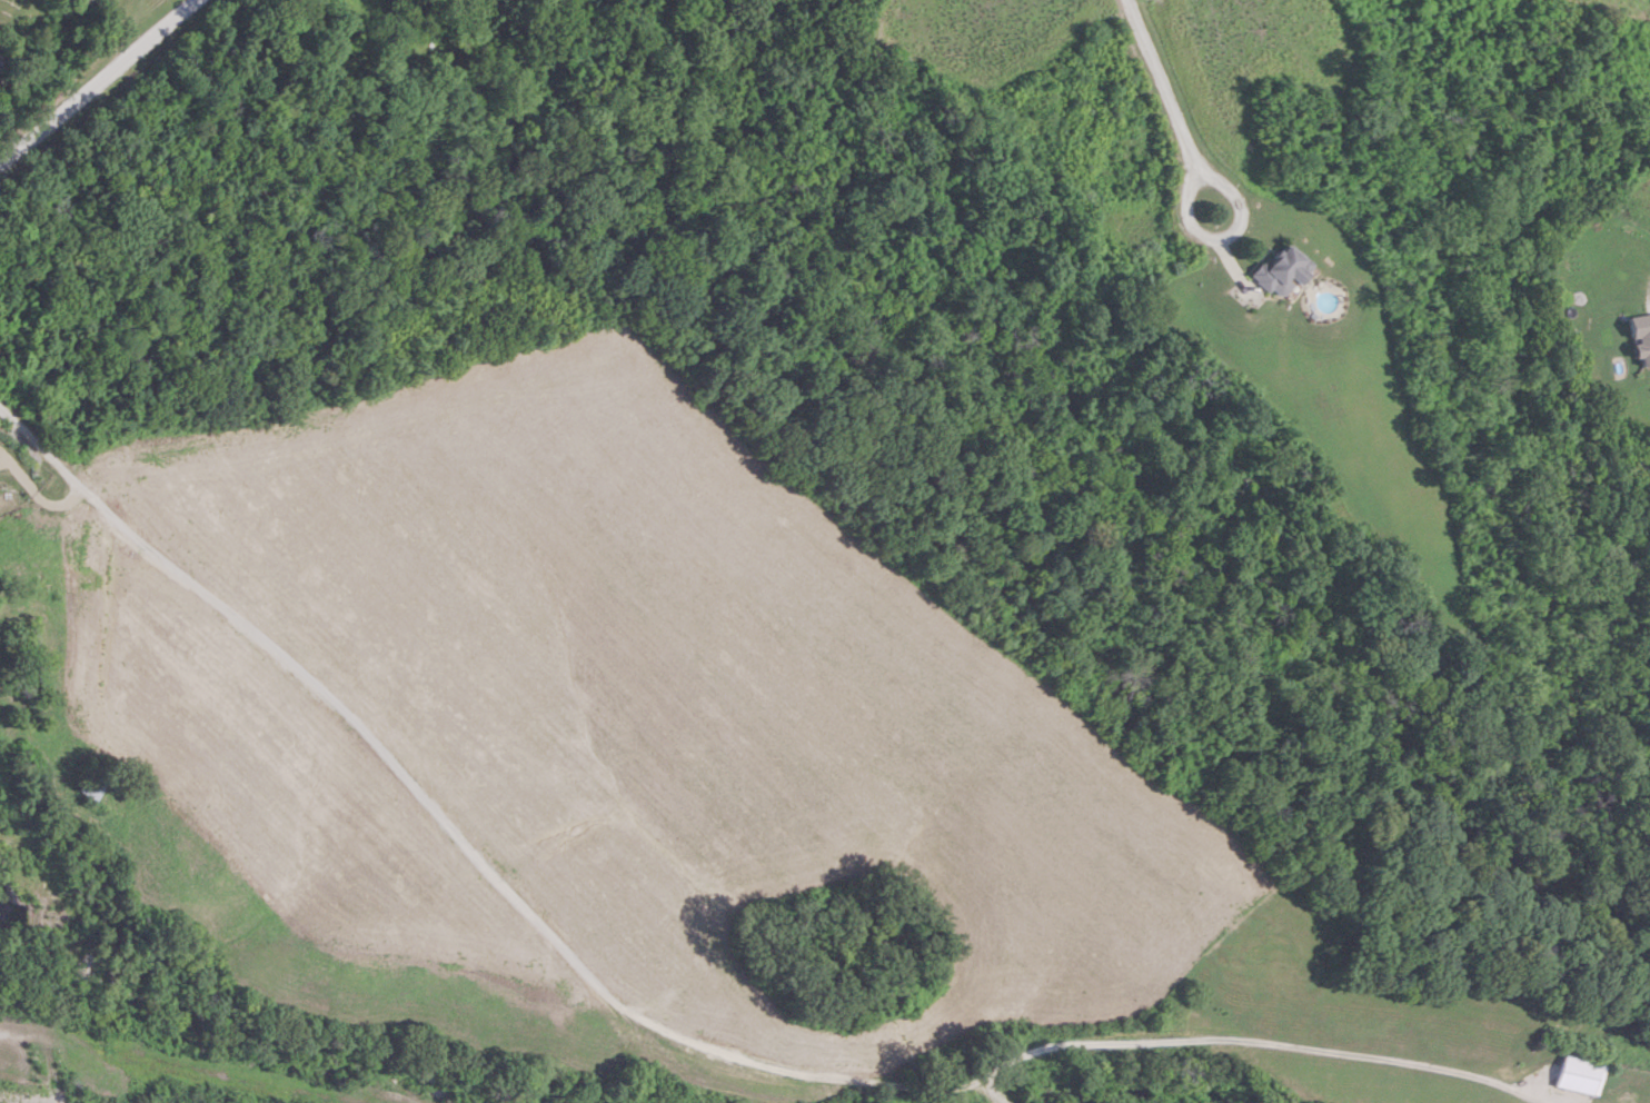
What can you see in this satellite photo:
building: (1, 58)
road: (97, 79)
road: (1163, 81)
road: (1203, 228)
building: (1282, 269)
road: (1564, 289)
building: (1642, 337)
building: (95, 785)
quarry: (34, 913)
road: (584, 975)
road: (178, 1063)
road: (1455, 1071)
building: (1578, 1076)
road: (987, 1094)

